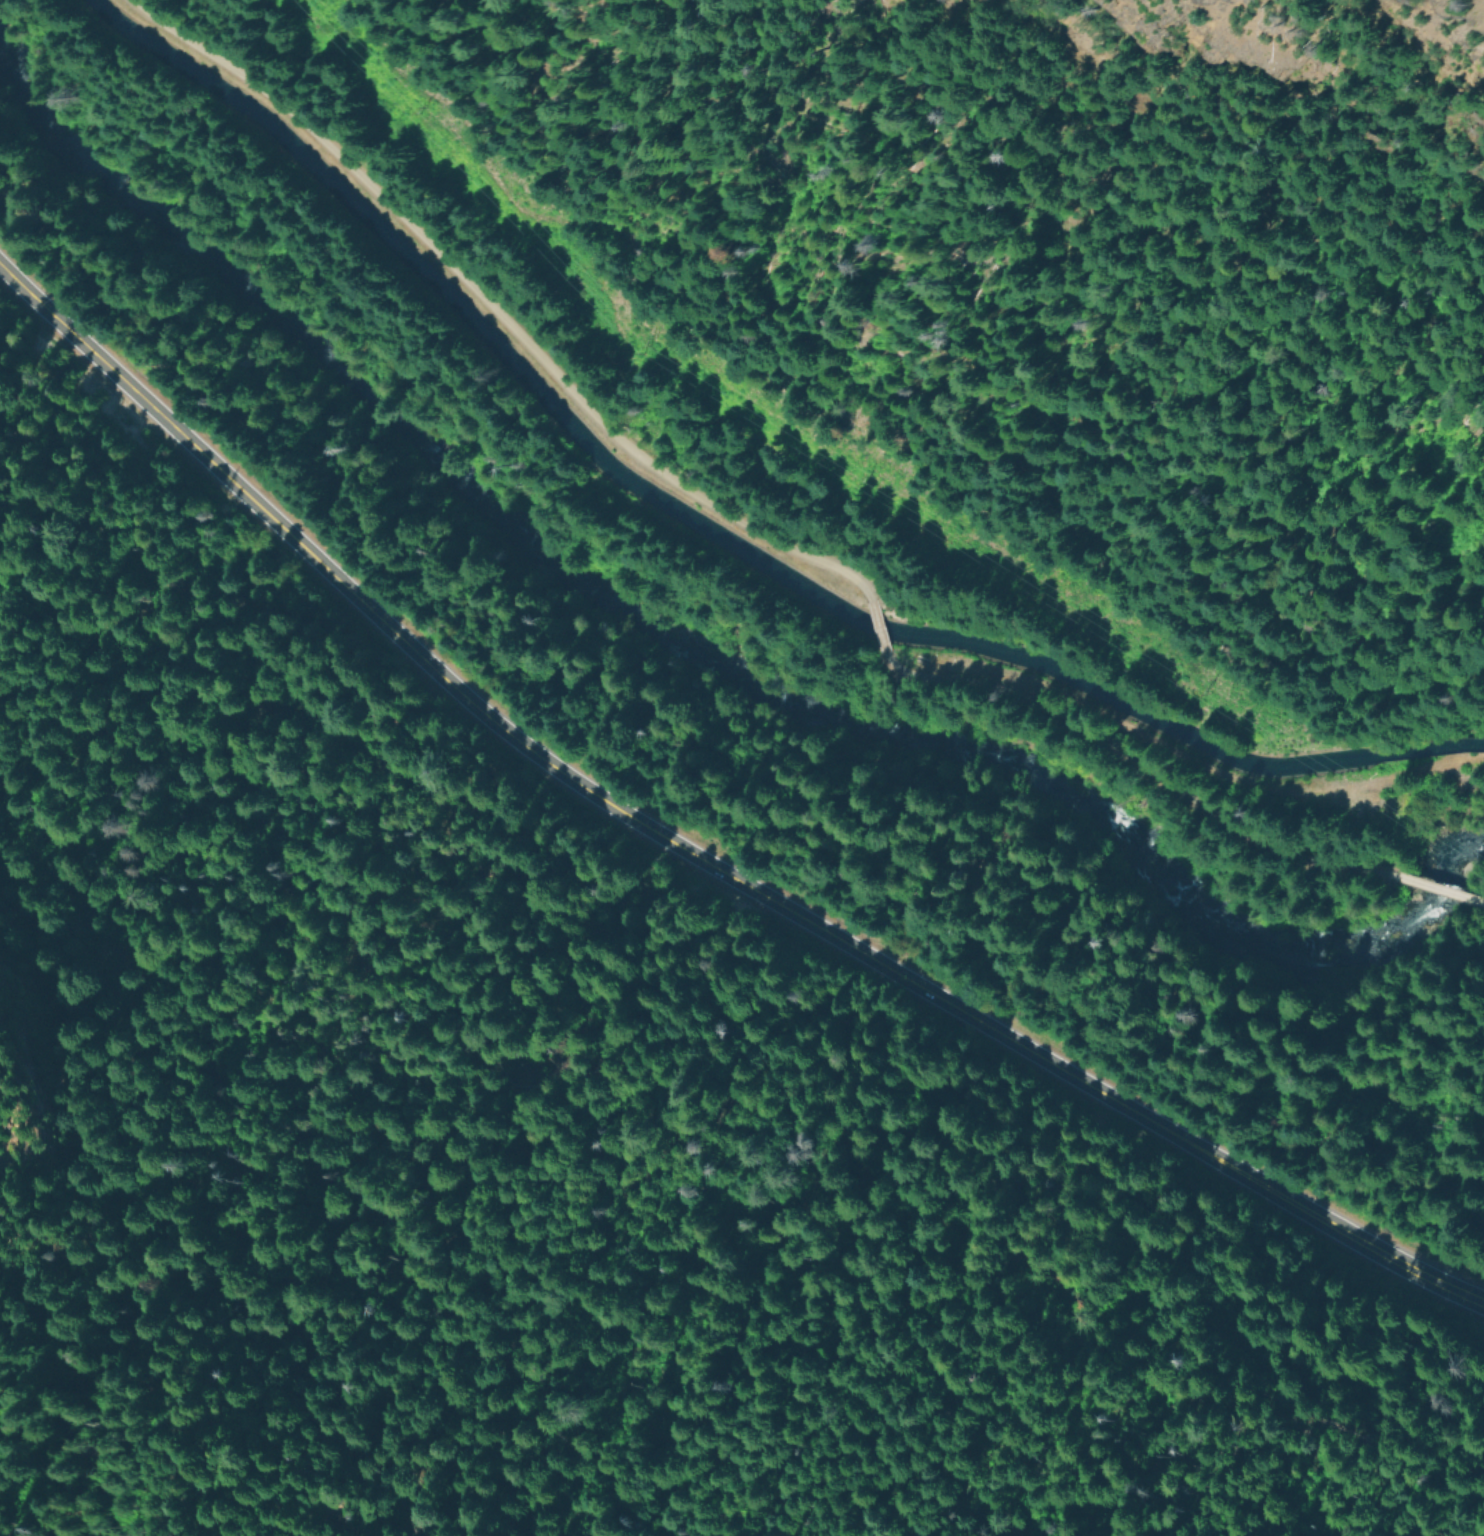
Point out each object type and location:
road: (485, 315)
power tower: (642, 346)
road: (879, 625)
river: (689, 659)
road: (1137, 762)
road: (1244, 783)
road: (693, 859)
road: (1438, 887)

